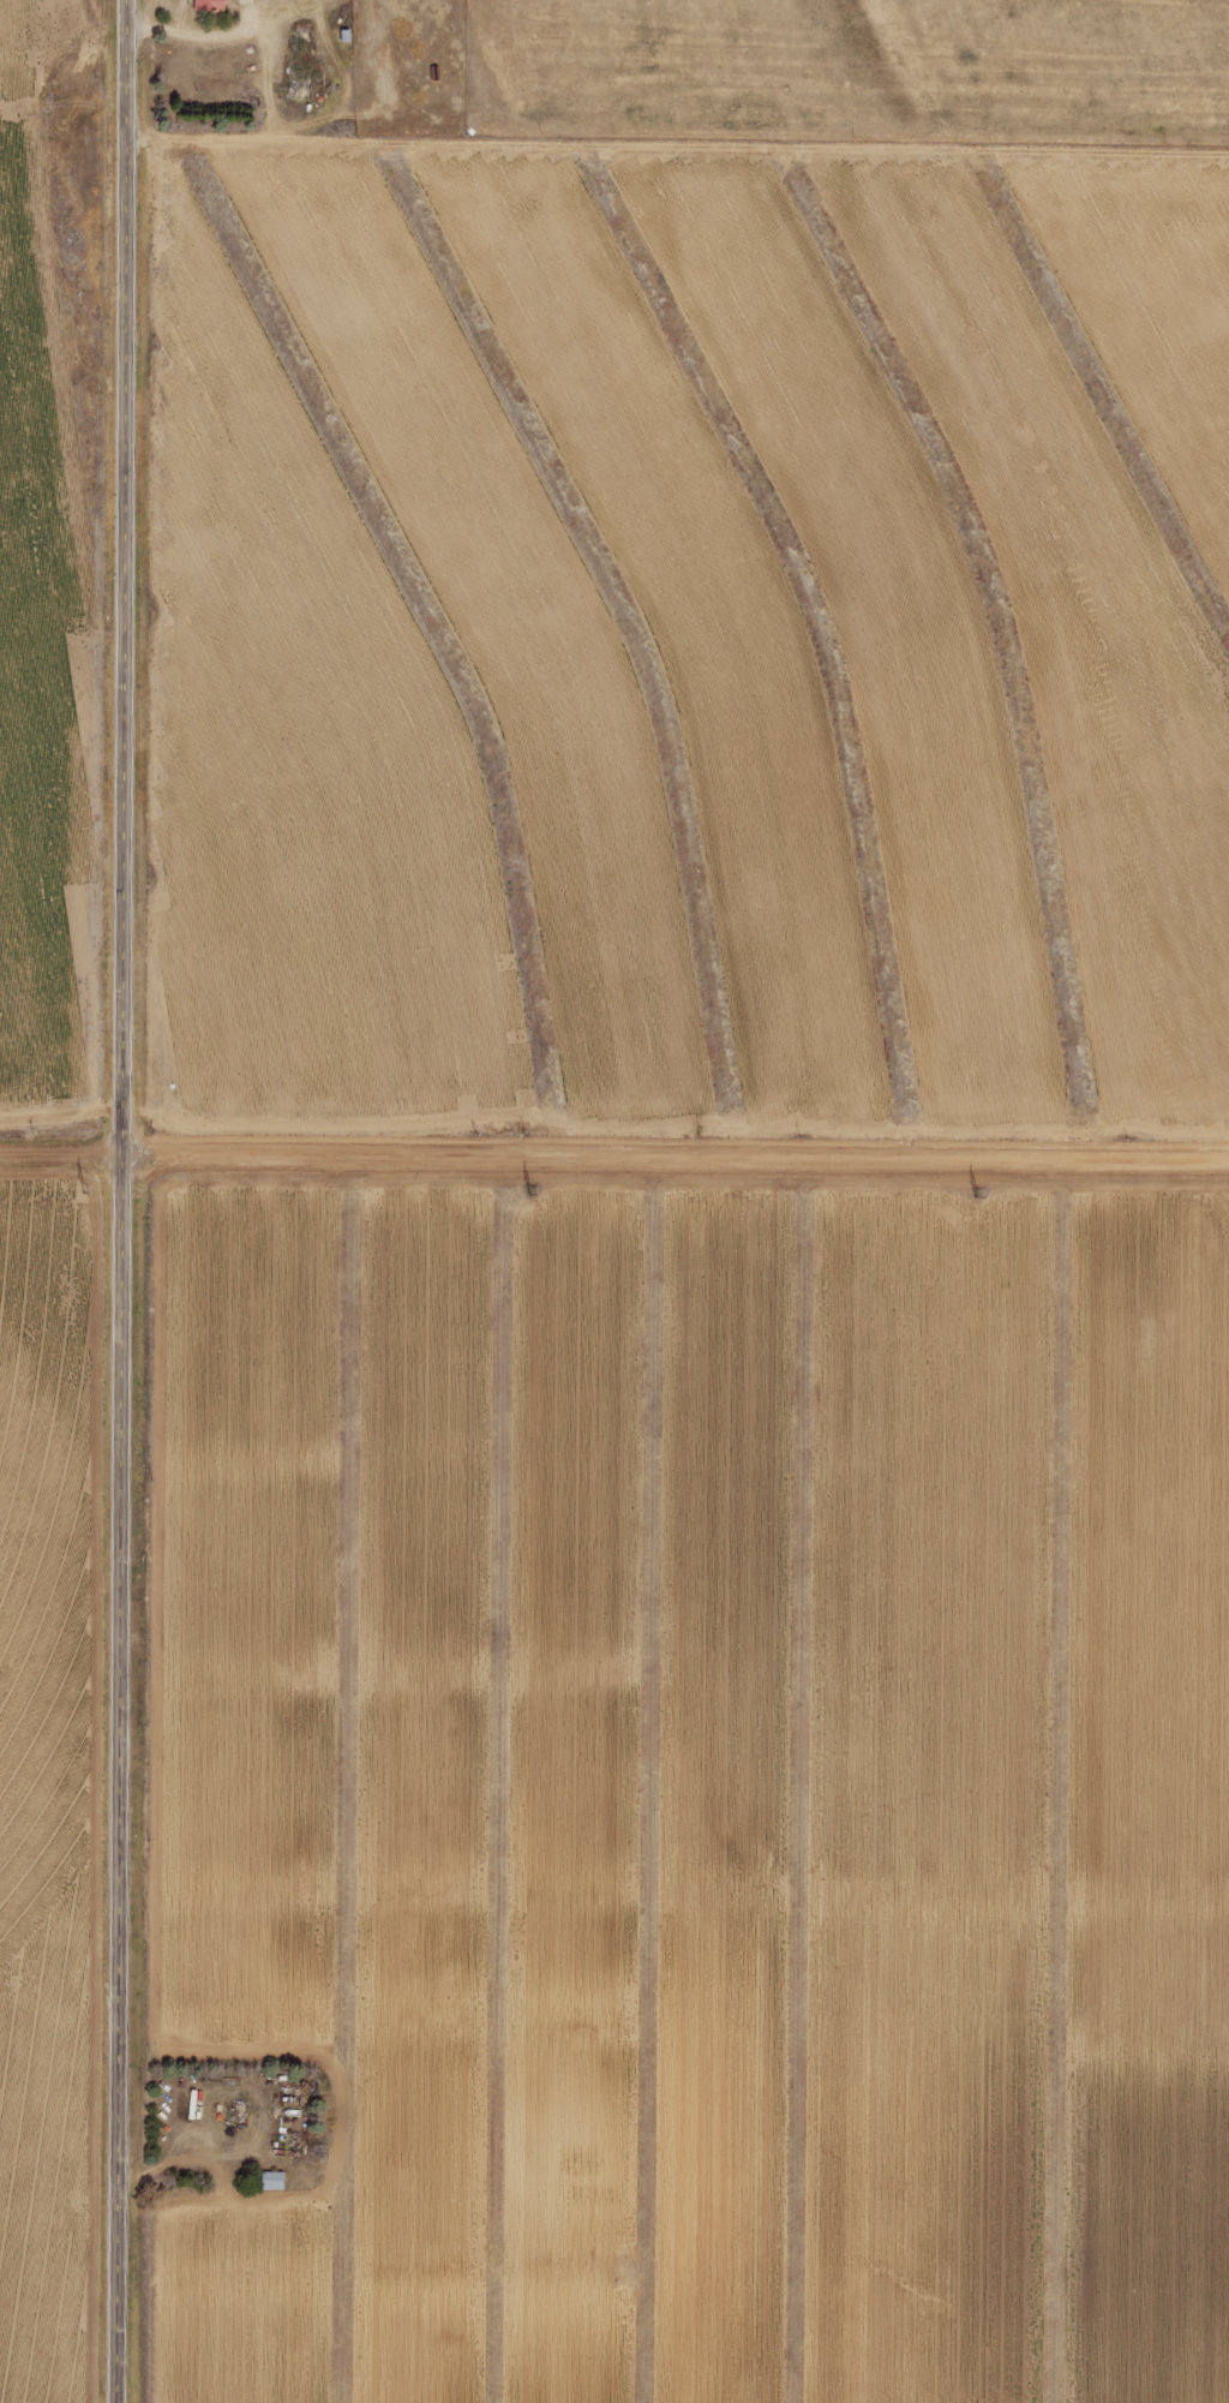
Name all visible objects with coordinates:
building: (209, 6)
road: (614, 1158)
power tower: (77, 1185)
power tower: (523, 1190)
power tower: (971, 1192)
road: (126, 1201)
building: (271, 2181)

